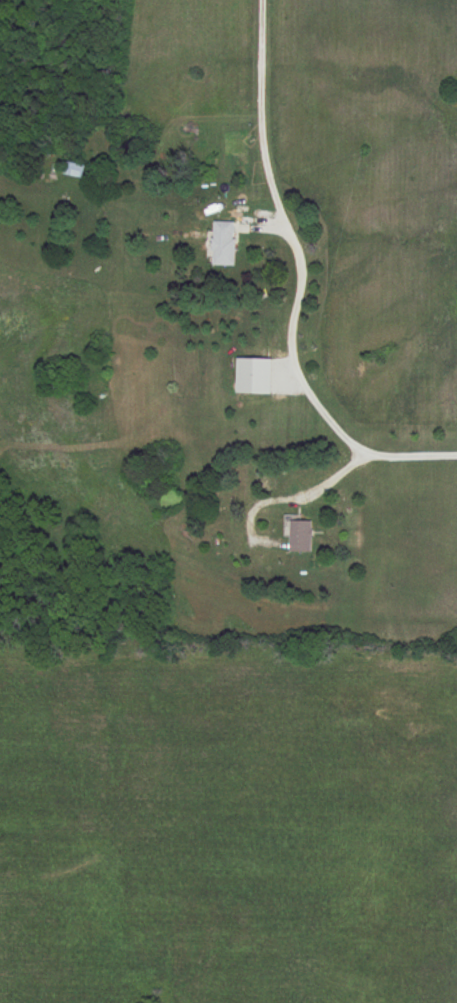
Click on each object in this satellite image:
building: (73, 169)
road: (262, 228)
building: (222, 241)
road: (298, 285)
building: (252, 374)
road: (313, 491)
building: (300, 534)

